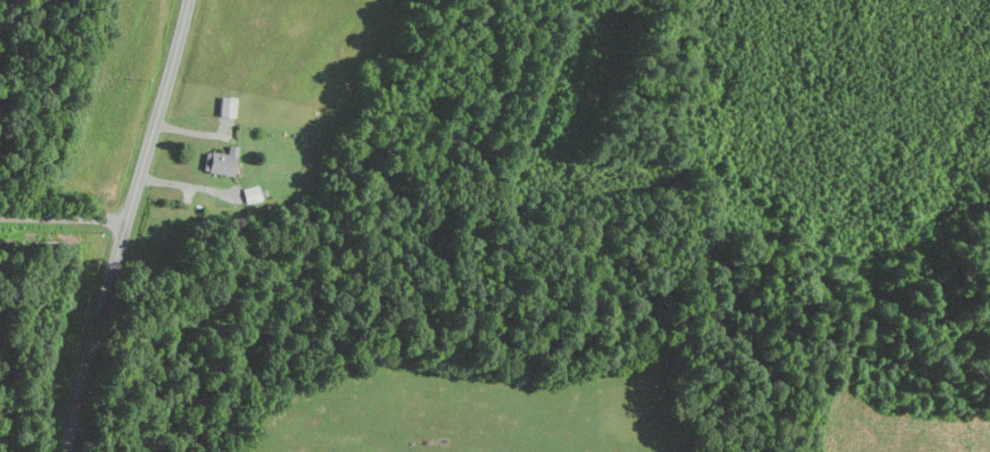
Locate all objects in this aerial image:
building: (228, 105)
building: (222, 161)
road: (187, 186)
building: (252, 193)
road: (63, 216)
road: (126, 225)

